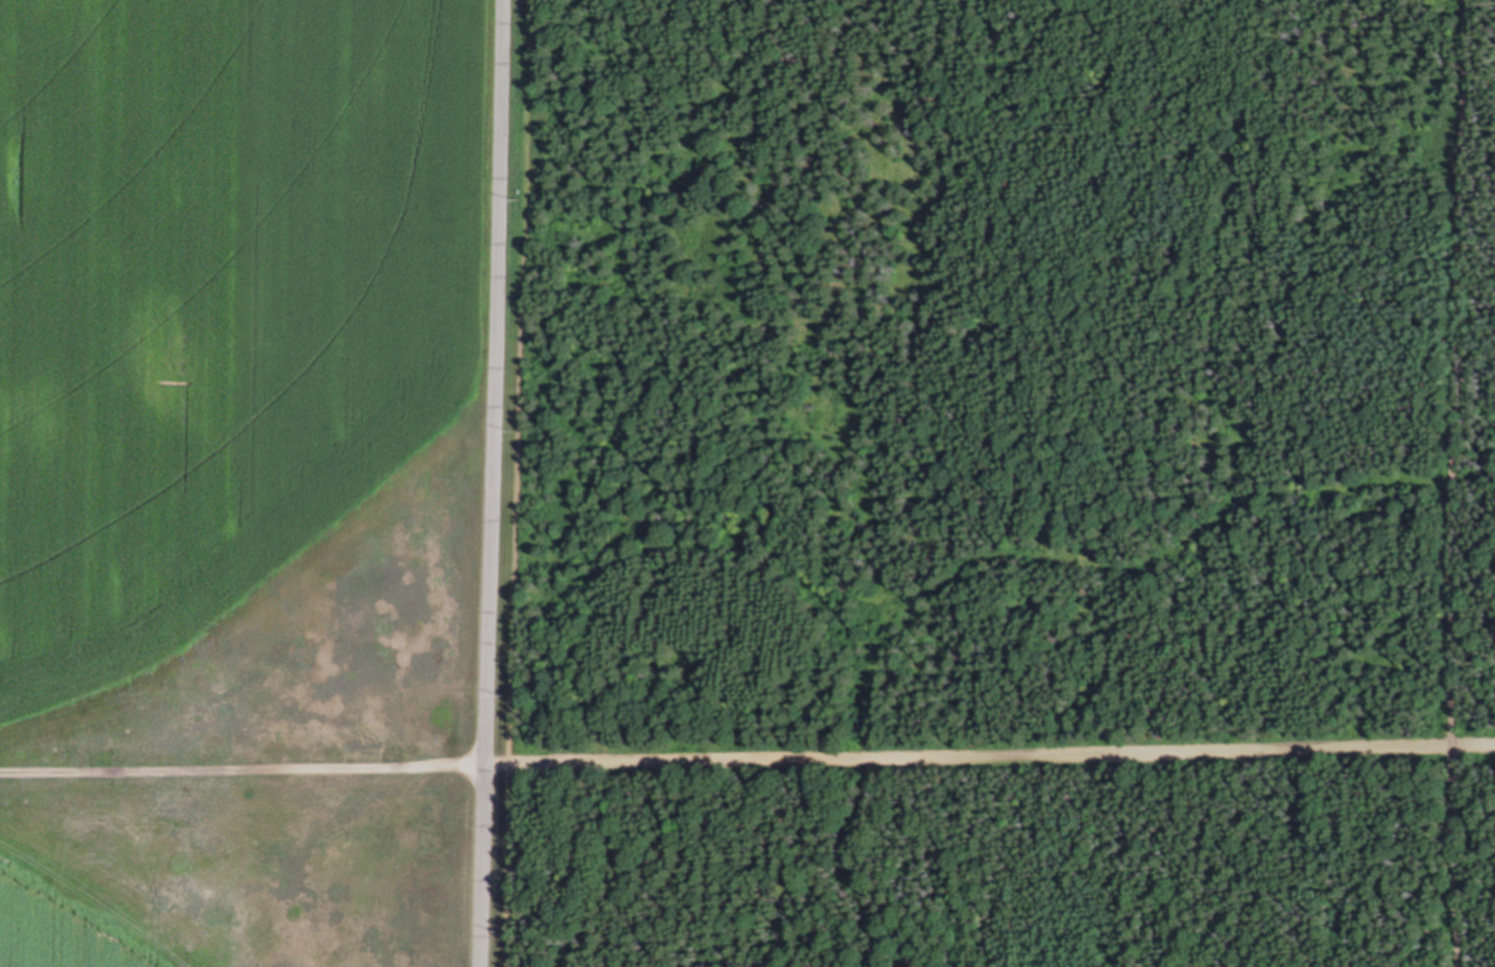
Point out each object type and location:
crop: (241, 480)
road: (489, 483)
road: (518, 483)
road: (1457, 483)
road: (989, 755)
road: (241, 766)

